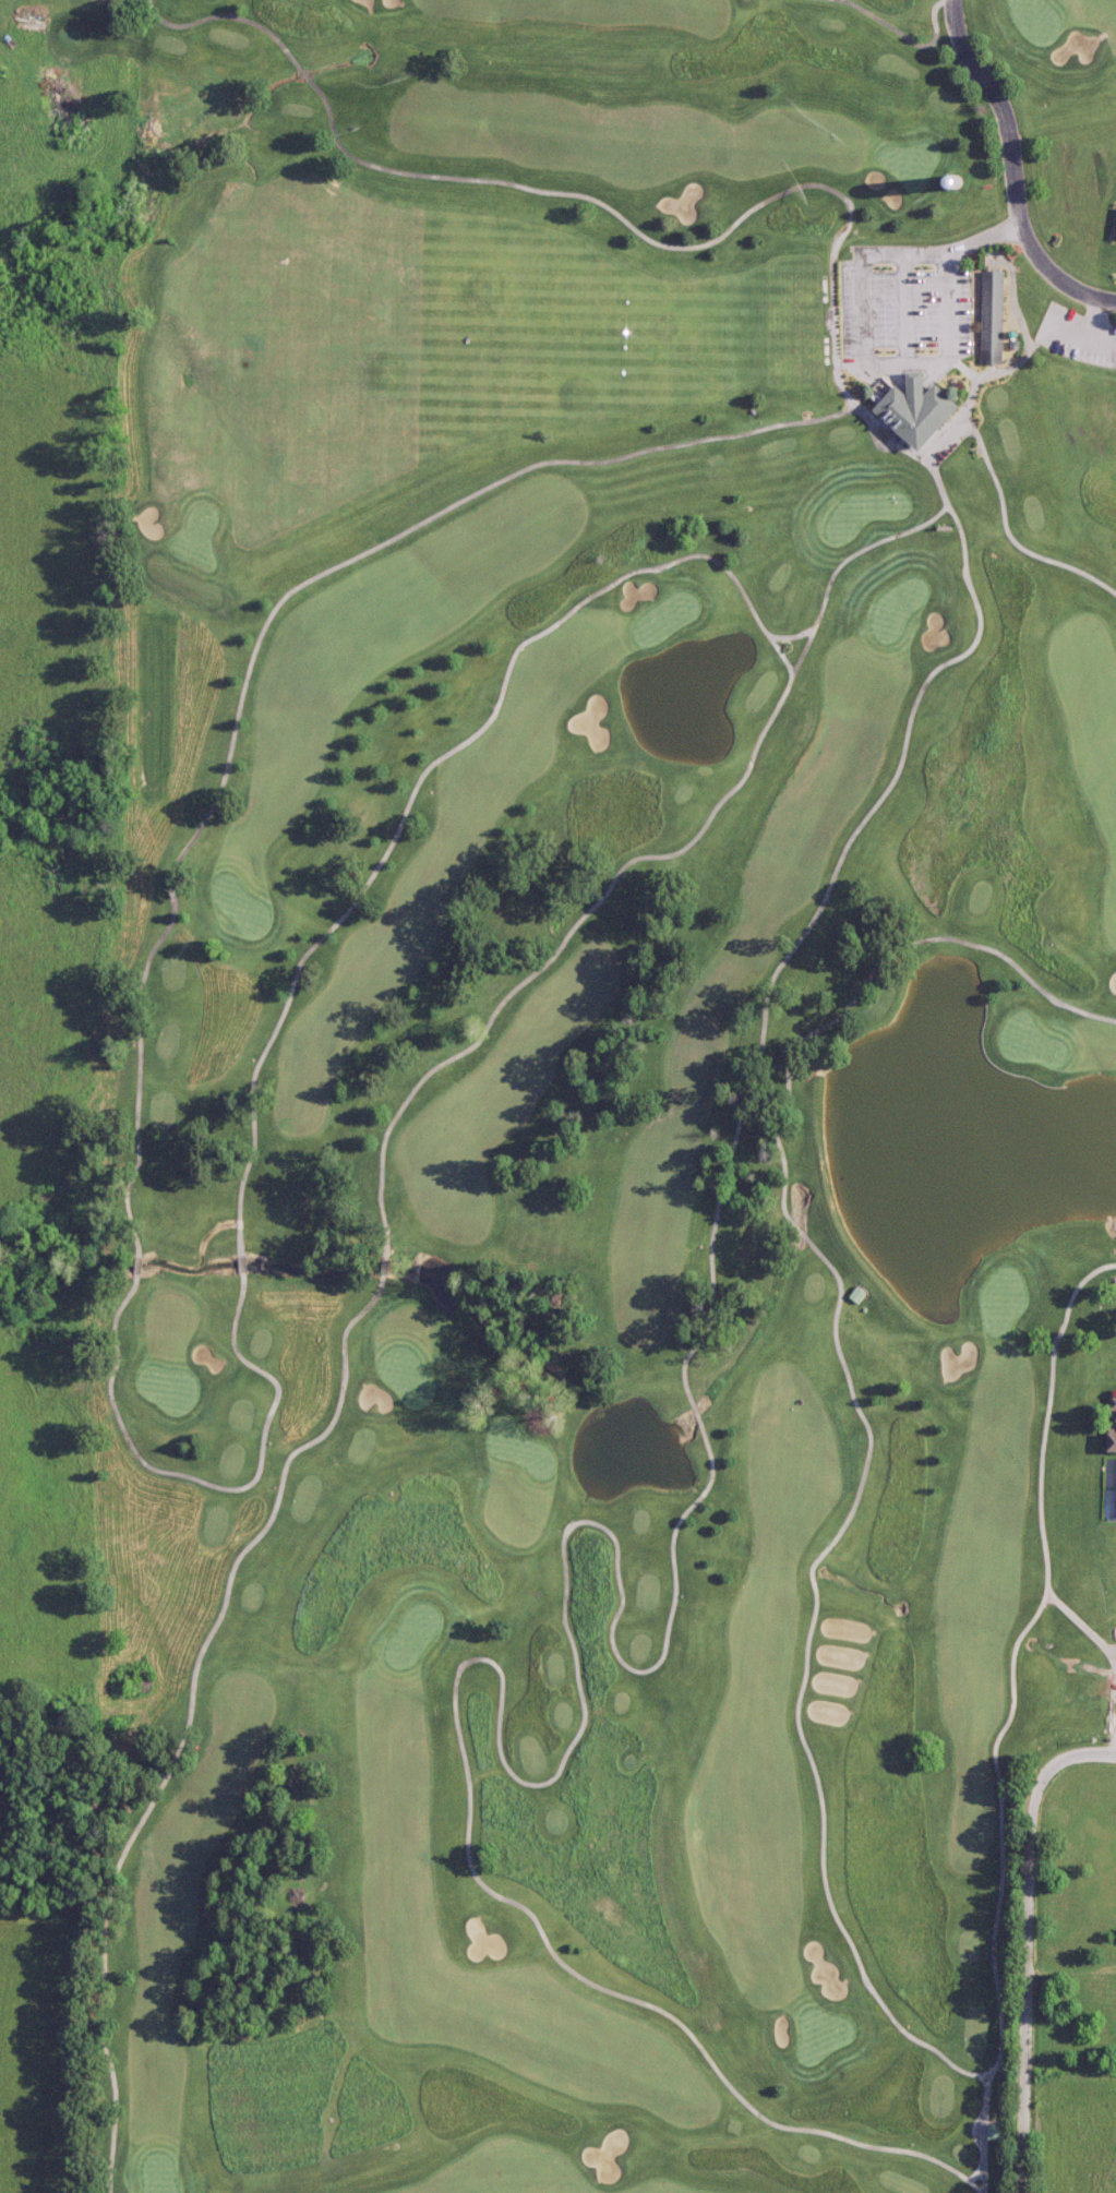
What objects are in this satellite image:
road: (868, 13)
road: (932, 39)
road: (1016, 169)
building: (952, 181)
road: (616, 214)
building: (1112, 232)
road: (903, 300)
parking lot: (903, 302)
road: (1013, 305)
building: (985, 316)
road: (1090, 325)
road: (899, 356)
road: (994, 370)
road: (850, 410)
building: (904, 410)
road: (960, 411)
road: (1005, 531)
road: (576, 606)
road: (761, 623)
road: (263, 631)
road: (782, 652)
road: (913, 705)
road: (637, 856)
road: (299, 964)
road: (867, 975)
park: (560, 1096)
park: (555, 1104)
road: (721, 1178)
building: (1108, 1422)
road: (207, 1483)
building: (1112, 1489)
road: (1076, 1620)
road: (1018, 1638)
road: (501, 1675)
road: (797, 1695)
road: (191, 1715)
road: (1029, 1944)
road: (1072, 1972)
building: (997, 2131)
road: (982, 2132)
road: (974, 2172)

